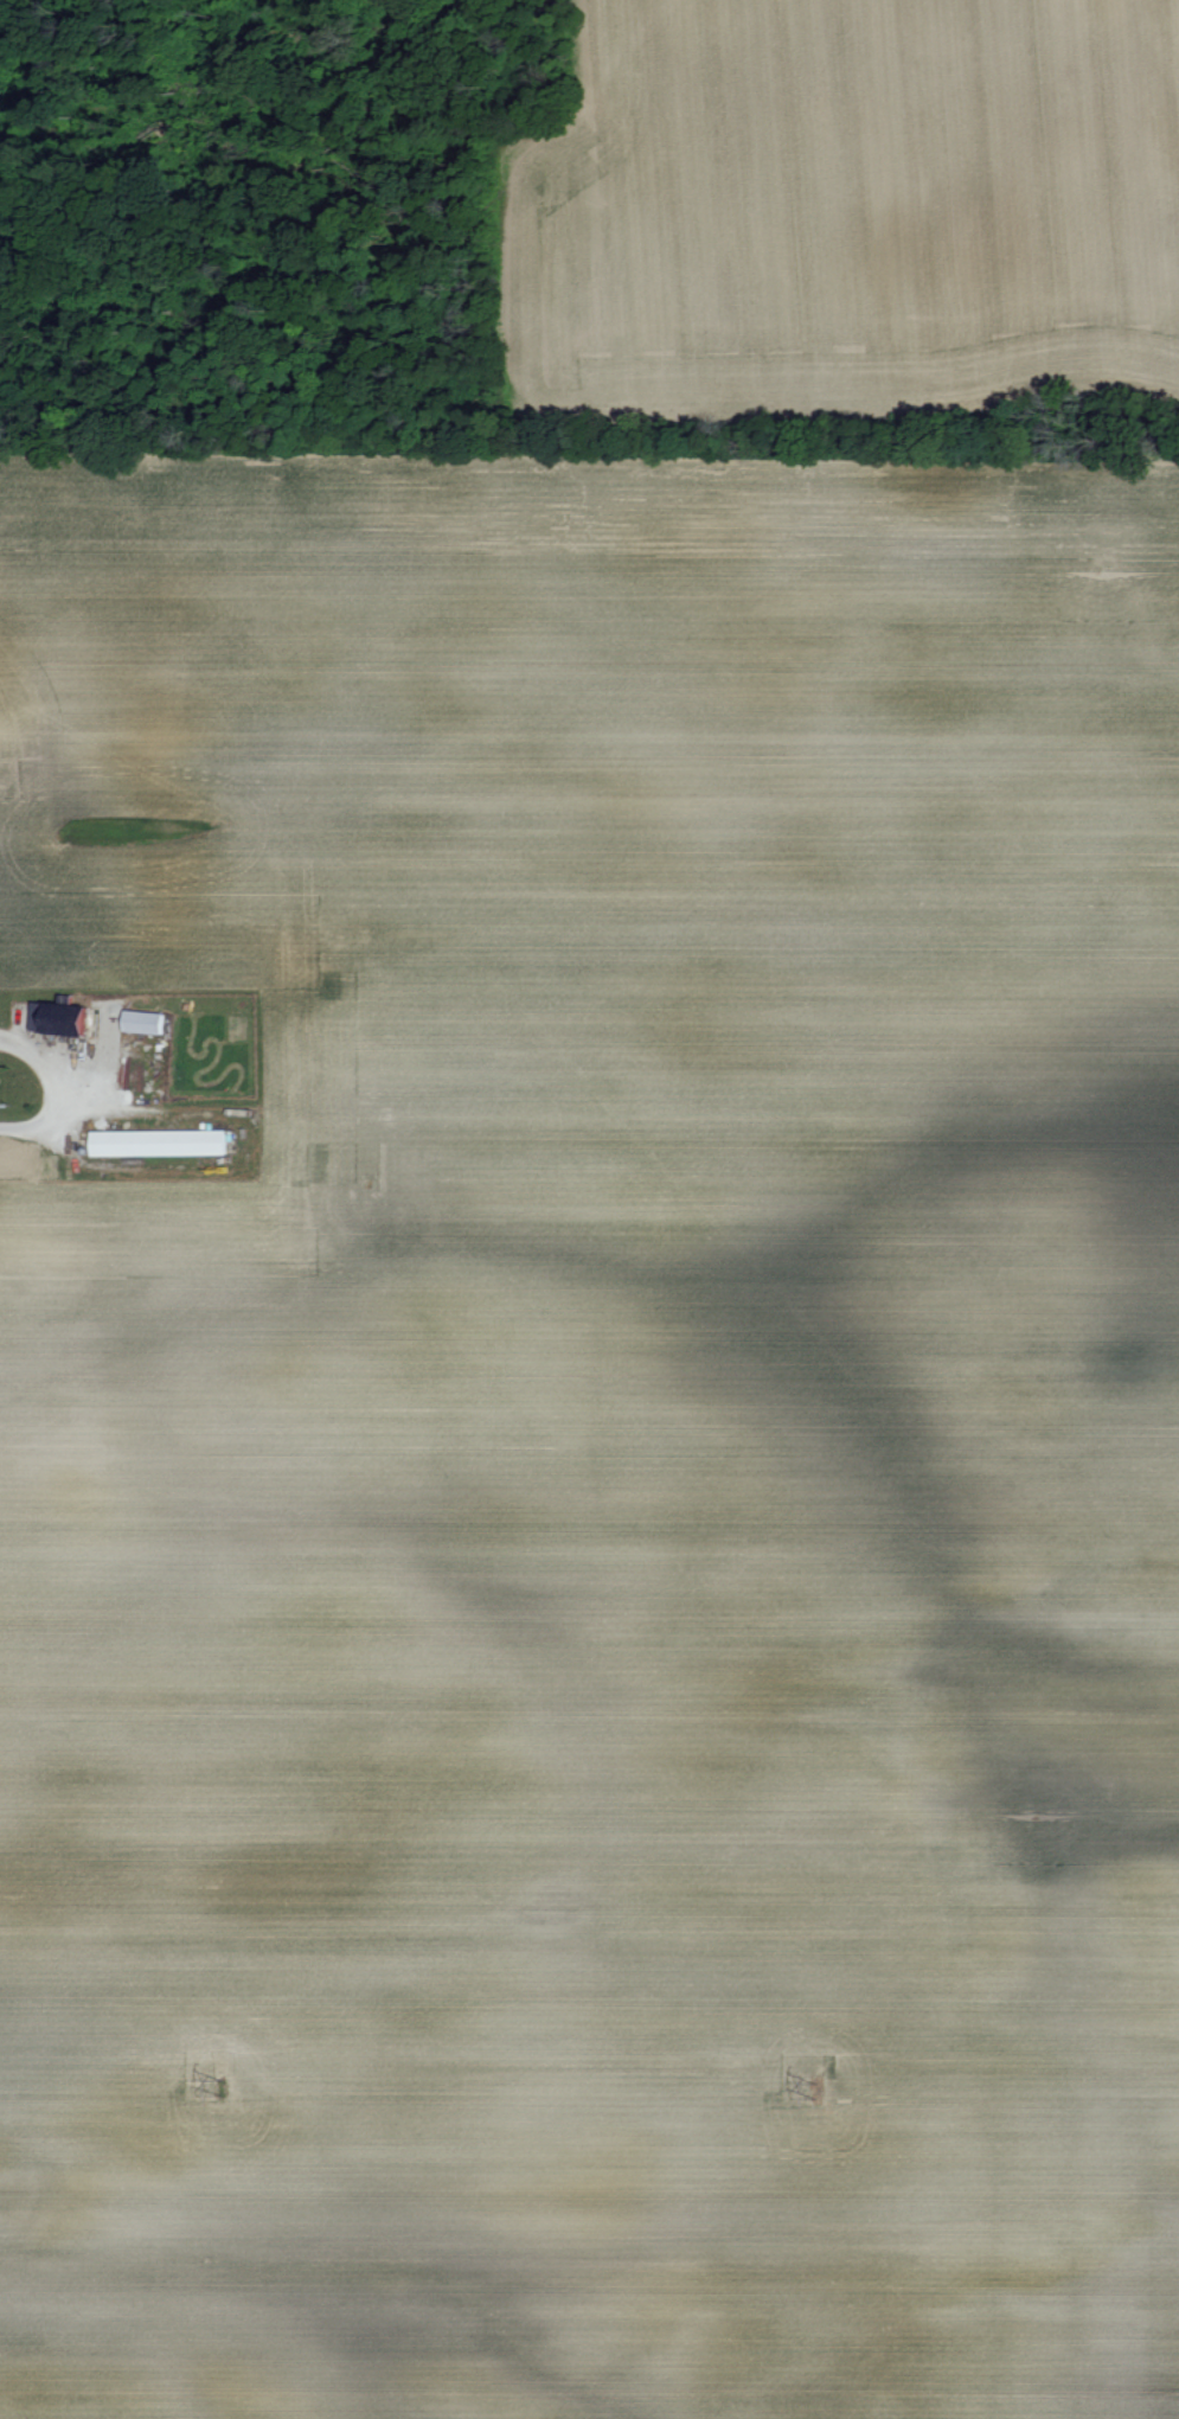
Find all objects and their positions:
building: (62, 1018)
building: (141, 1022)
road: (55, 1090)
building: (155, 1143)
power tower: (217, 2086)
power tower: (812, 2088)

